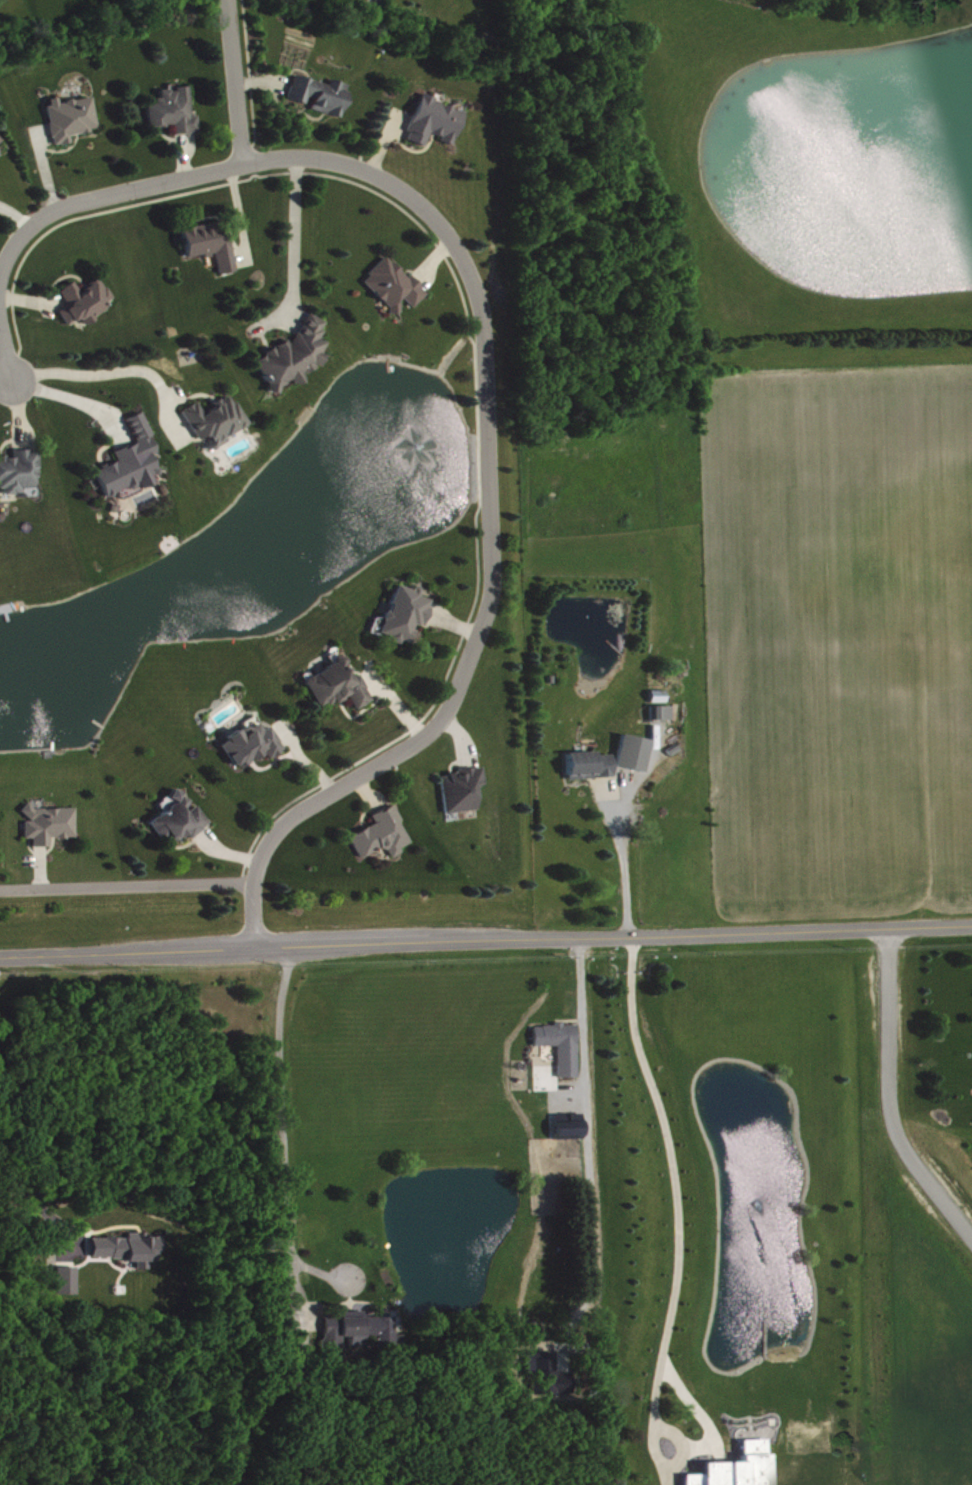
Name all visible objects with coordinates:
road: (233, 83)
building: (323, 93)
building: (176, 109)
building: (73, 116)
building: (437, 121)
building: (1, 139)
road: (58, 212)
building: (213, 243)
road: (299, 251)
building: (396, 284)
building: (87, 300)
building: (296, 354)
road: (117, 371)
road: (6, 379)
road: (62, 396)
building: (218, 419)
building: (133, 461)
building: (20, 470)
road: (490, 526)
building: (407, 613)
building: (340, 685)
building: (663, 712)
building: (254, 743)
building: (634, 752)
building: (591, 764)
building: (463, 788)
building: (181, 819)
building: (51, 823)
building: (383, 833)
road: (627, 861)
road: (128, 885)
road: (486, 942)
building: (563, 1045)
road: (894, 1092)
building: (570, 1127)
road: (287, 1135)
road: (586, 1138)
road: (38, 1207)
building: (131, 1247)
road: (683, 1273)
building: (69, 1277)
building: (356, 1328)
building: (738, 1468)

